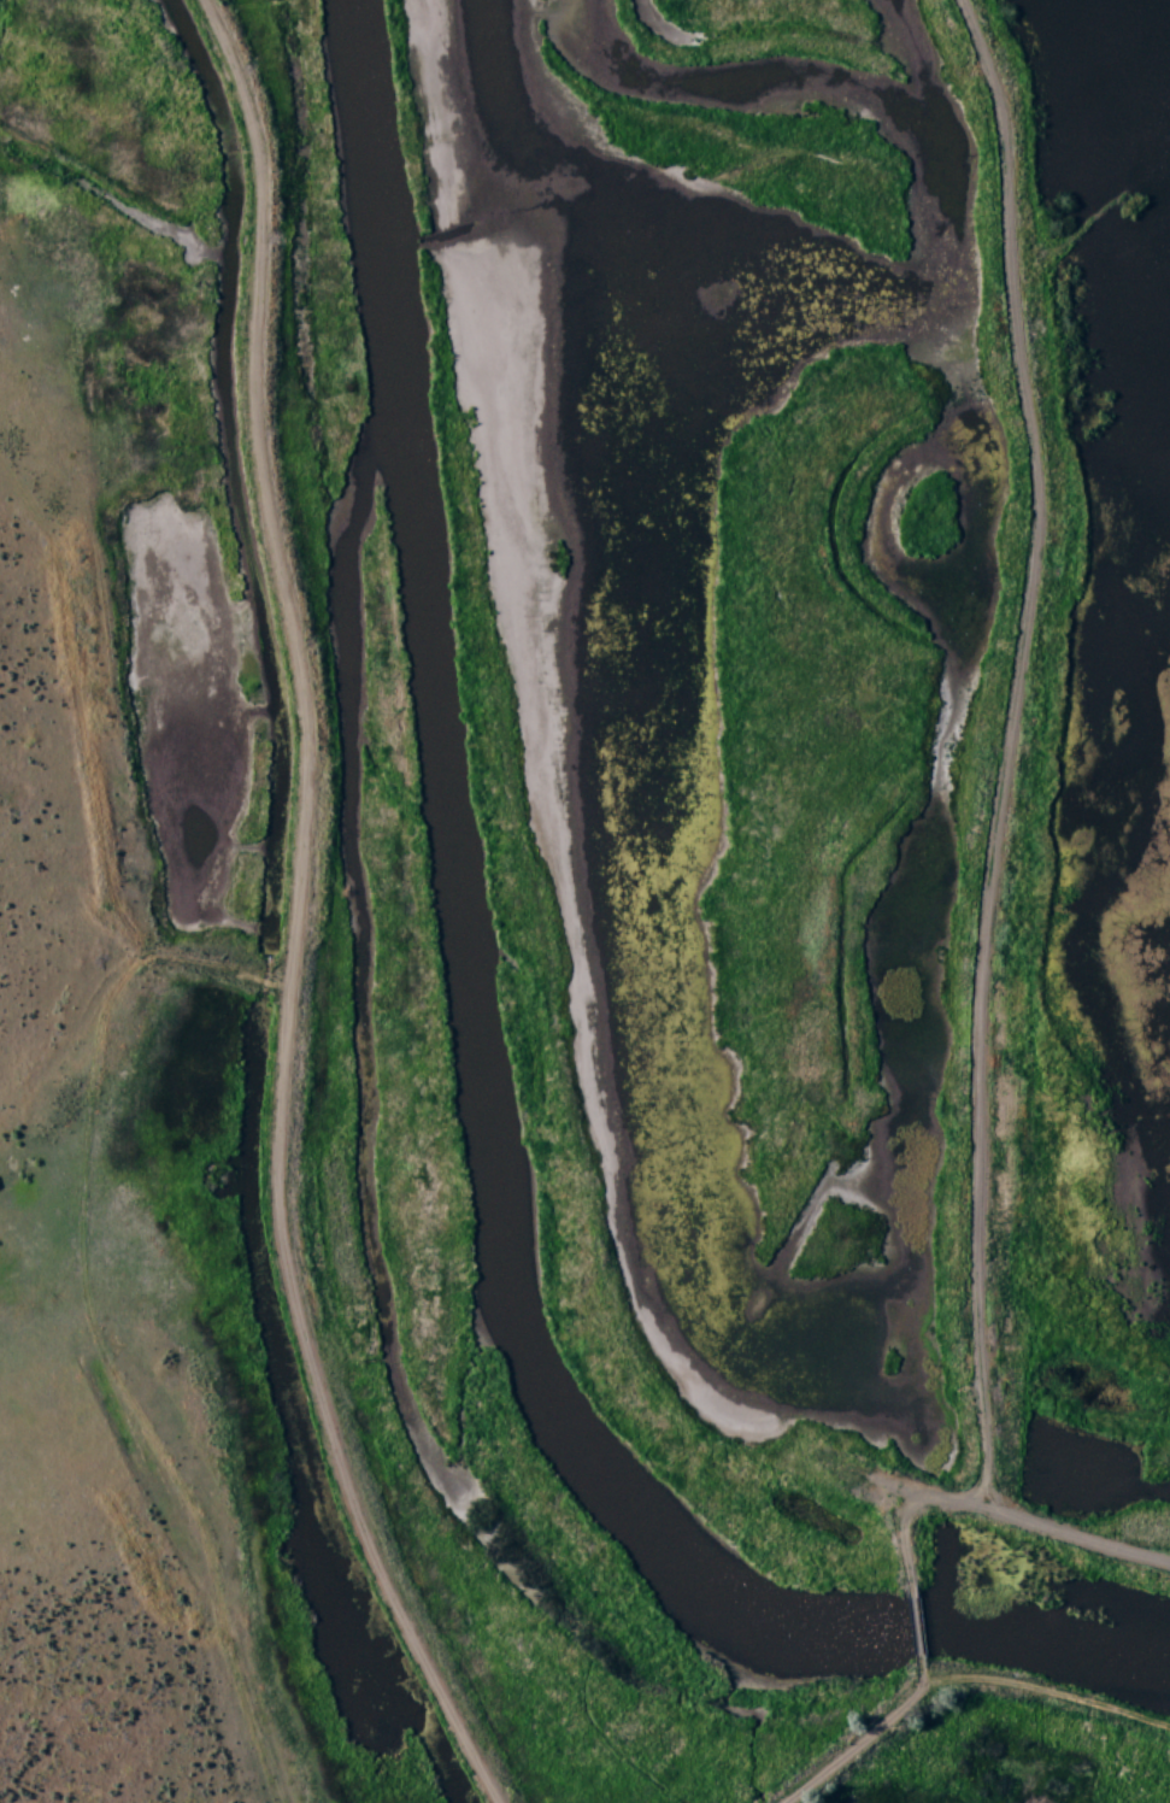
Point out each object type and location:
river: (472, 934)
river: (1075, 1623)

